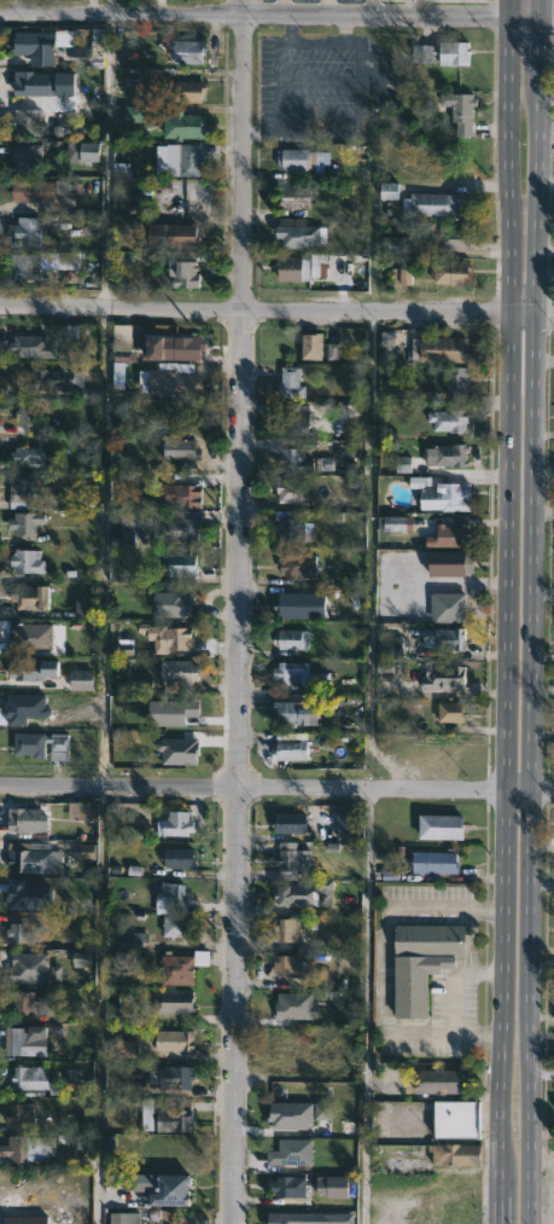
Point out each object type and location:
road: (281, 8)
road: (326, 8)
road: (276, 17)
road: (342, 27)
road: (311, 39)
building: (36, 43)
building: (191, 51)
building: (439, 52)
building: (87, 56)
building: (39, 85)
parking lot: (316, 87)
road: (278, 88)
building: (188, 91)
building: (459, 110)
building: (29, 122)
building: (183, 126)
building: (86, 151)
building: (27, 158)
building: (185, 158)
building: (293, 158)
building: (406, 168)
building: (31, 191)
building: (296, 196)
building: (428, 203)
building: (30, 232)
building: (174, 234)
building: (442, 234)
building: (297, 236)
building: (28, 266)
building: (292, 268)
building: (182, 273)
building: (449, 273)
road: (276, 313)
building: (35, 348)
building: (183, 348)
building: (315, 348)
building: (439, 349)
building: (273, 350)
road: (542, 359)
building: (57, 381)
building: (176, 382)
building: (455, 382)
building: (287, 383)
building: (34, 414)
building: (444, 419)
building: (290, 420)
building: (185, 449)
building: (443, 456)
building: (29, 458)
building: (291, 460)
building: (29, 488)
building: (287, 492)
building: (185, 497)
building: (442, 498)
building: (28, 524)
building: (129, 528)
building: (290, 528)
building: (174, 529)
building: (445, 538)
building: (30, 562)
building: (181, 564)
building: (442, 564)
building: (296, 565)
building: (34, 597)
building: (171, 605)
building: (298, 607)
building: (449, 607)
road: (244, 611)
road: (503, 611)
road: (527, 611)
building: (31, 636)
building: (165, 637)
building: (288, 639)
building: (444, 639)
building: (389, 648)
building: (31, 672)
building: (293, 674)
building: (177, 677)
building: (442, 678)
building: (135, 685)
building: (447, 712)
building: (284, 713)
building: (43, 746)
building: (288, 747)
building: (165, 748)
road: (276, 788)
building: (83, 811)
building: (28, 820)
building: (286, 822)
building: (176, 823)
building: (437, 824)
building: (337, 825)
building: (181, 858)
building: (30, 859)
building: (284, 859)
building: (431, 860)
building: (170, 892)
building: (291, 893)
building: (174, 926)
building: (286, 929)
building: (24, 932)
building: (418, 962)
building: (286, 965)
road: (384, 965)
building: (181, 967)
building: (31, 968)
road: (454, 980)
building: (174, 1002)
road: (366, 1007)
building: (179, 1040)
building: (30, 1043)
building: (296, 1061)
building: (25, 1077)
building: (176, 1077)
building: (436, 1080)
building: (19, 1115)
building: (170, 1116)
building: (451, 1119)
building: (18, 1149)
building: (287, 1152)
building: (451, 1154)
road: (430, 1168)
building: (285, 1187)
building: (171, 1190)
building: (126, 1218)
building: (24, 1219)

